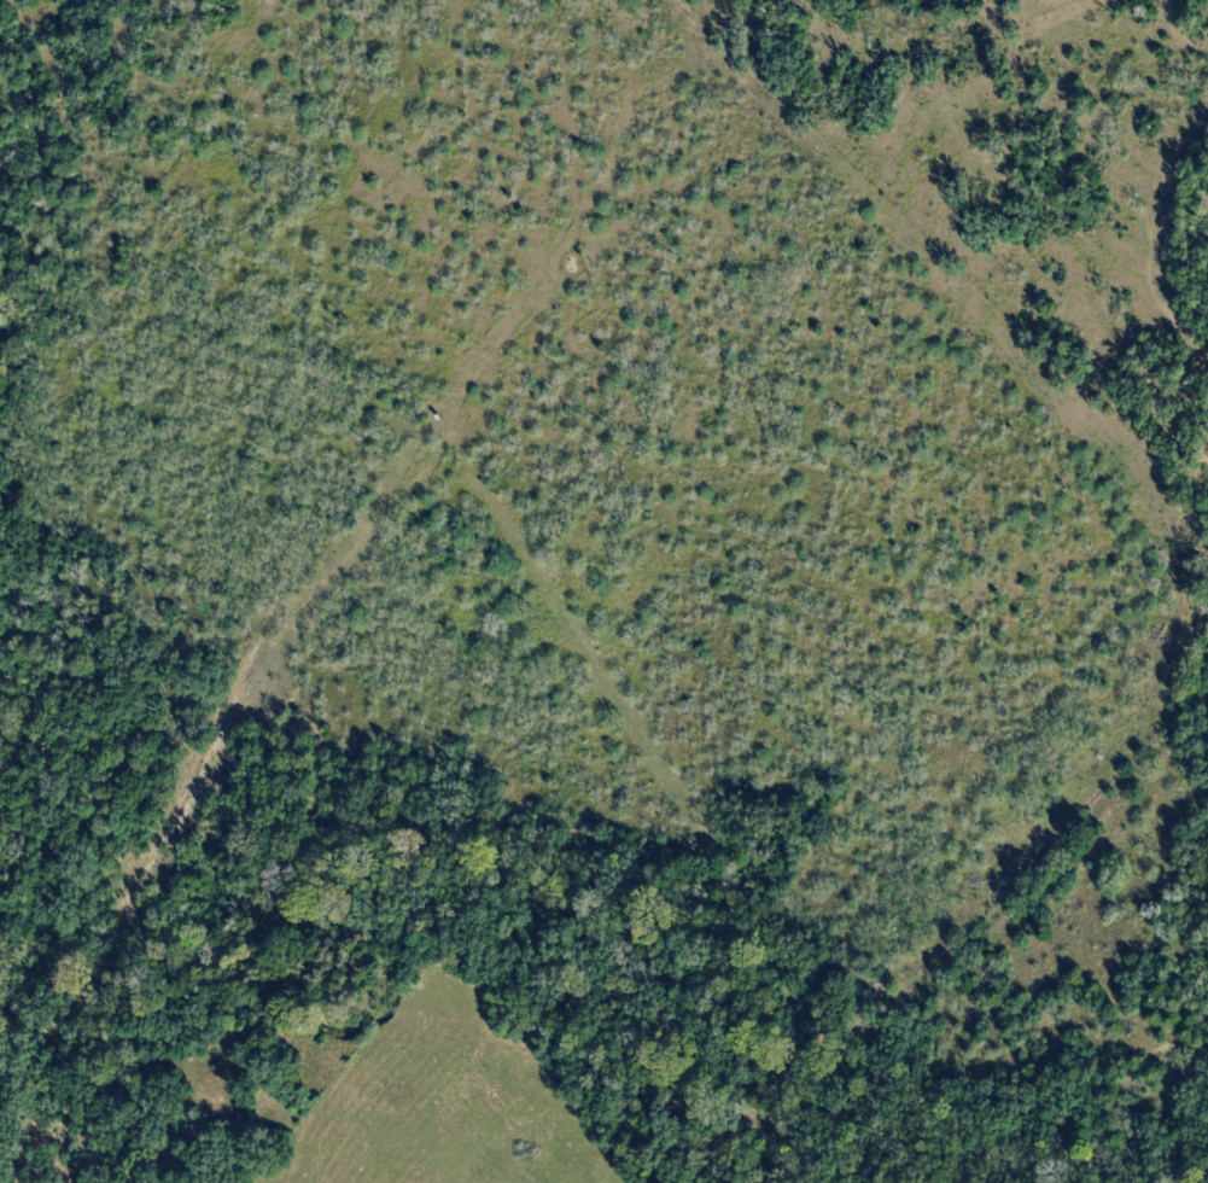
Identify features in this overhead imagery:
road: (157, 934)

